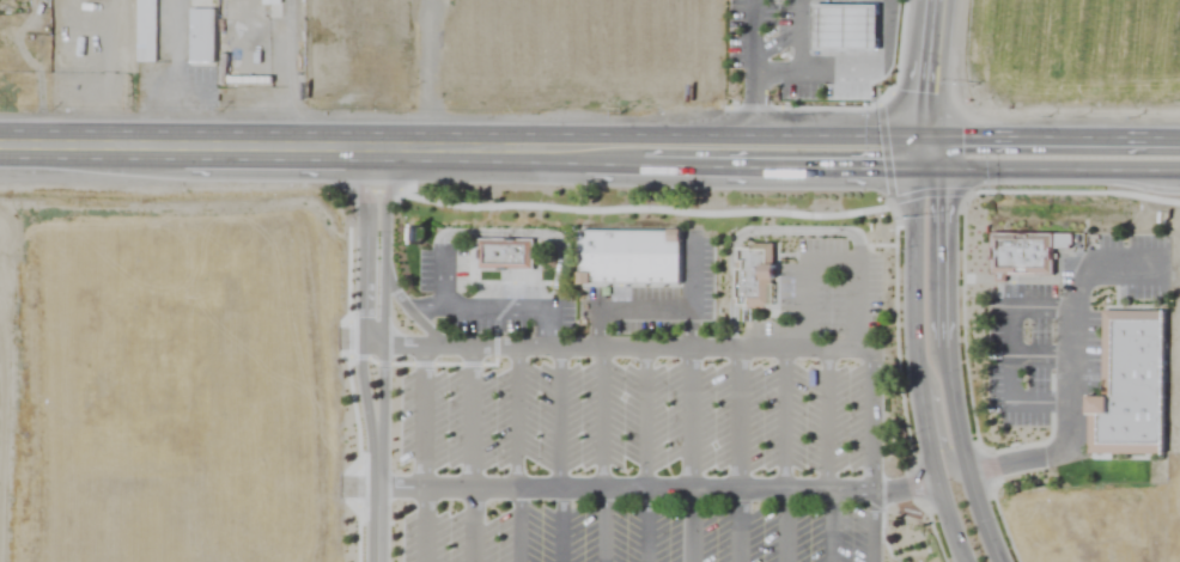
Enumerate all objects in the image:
building: (270, 1)
gas station: (847, 24)
building: (146, 30)
building: (201, 36)
road: (428, 73)
road: (943, 73)
road: (182, 74)
road: (752, 75)
road: (1057, 133)
road: (468, 147)
traffic signals: (937, 147)
road: (1057, 160)
building: (1026, 249)
building: (510, 253)
building: (634, 255)
building: (756, 275)
crop: (590, 281)
road: (384, 288)
road: (365, 291)
road: (410, 307)
road: (725, 346)
road: (933, 358)
building: (1135, 386)
road: (1071, 409)
road: (424, 452)
road: (473, 452)
road: (518, 452)
road: (560, 452)
road: (603, 453)
road: (646, 453)
road: (691, 453)
road: (740, 453)
road: (784, 453)
road: (828, 453)
road: (668, 485)
road: (379, 497)
parking lot: (687, 533)

